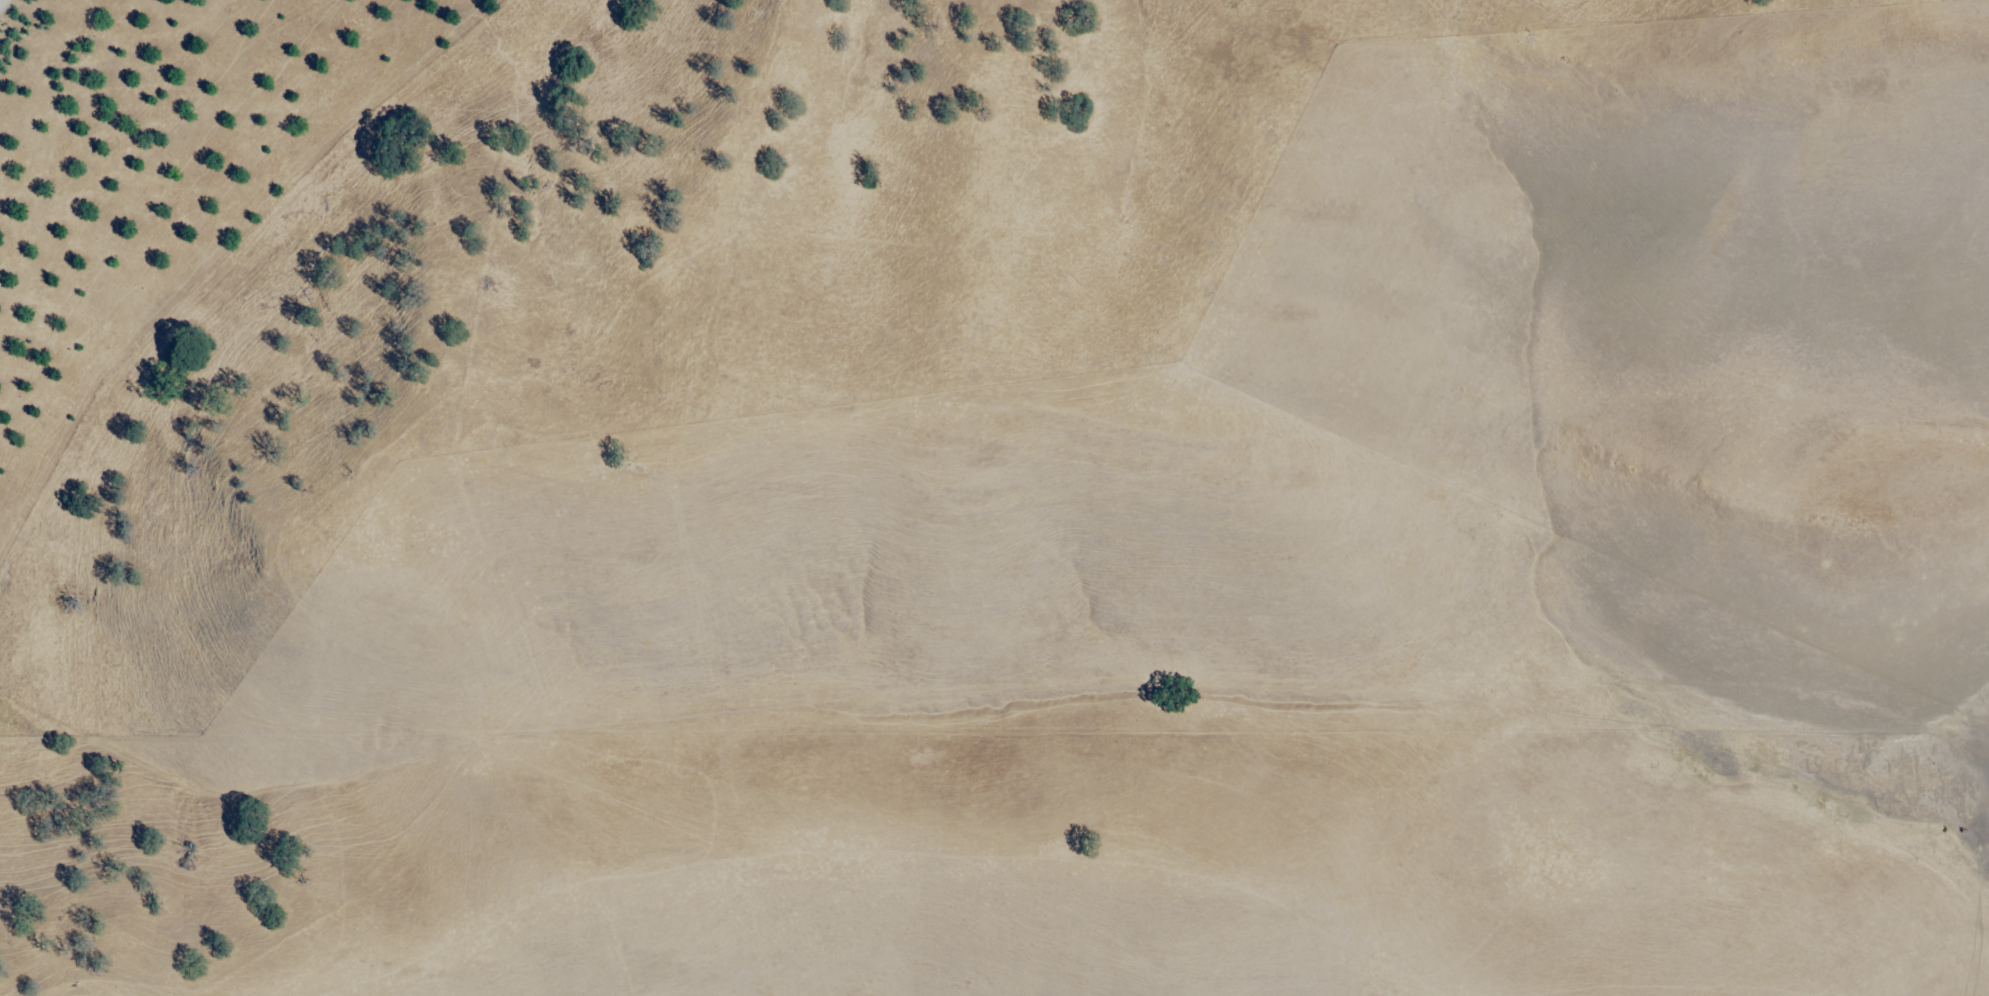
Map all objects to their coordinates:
park: (730, 271)
road: (1553, 553)

